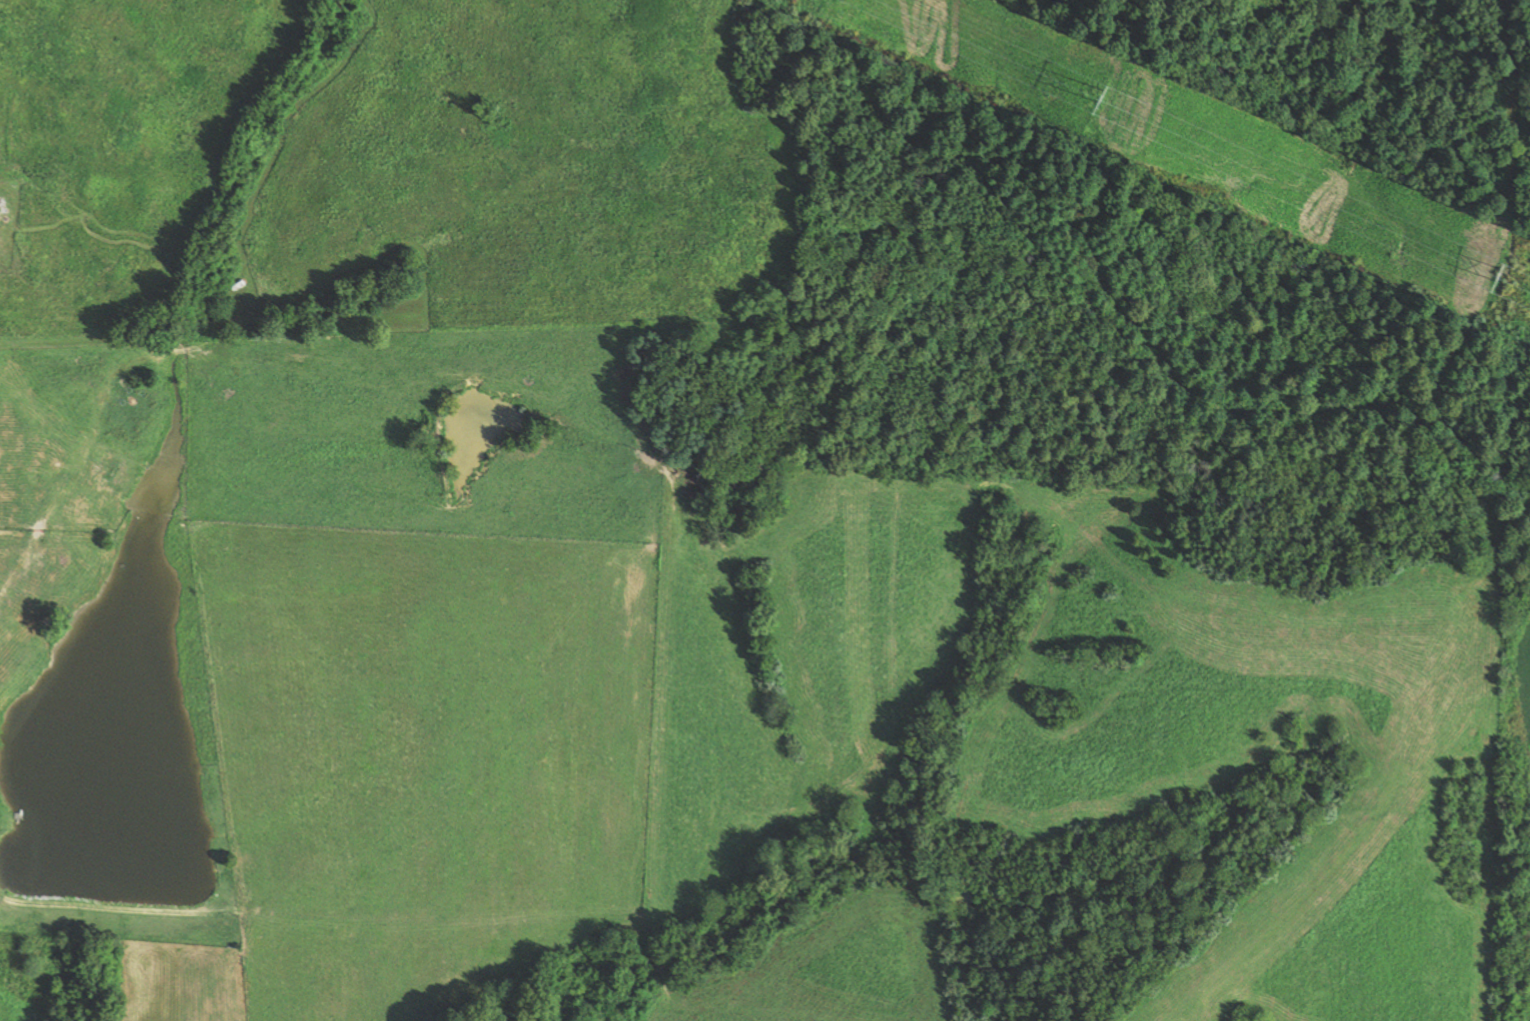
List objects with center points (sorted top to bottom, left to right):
power tower: (1104, 95)
building: (0, 236)
power tower: (1507, 271)

